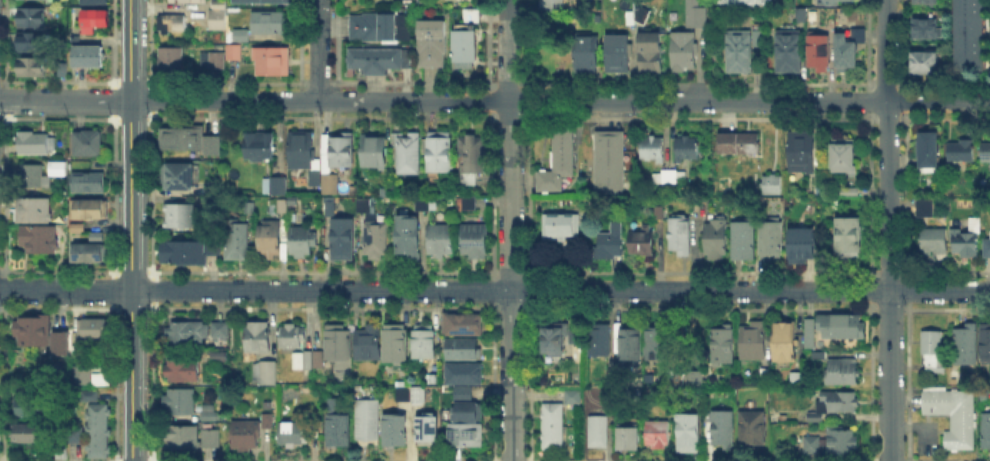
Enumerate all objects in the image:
building: (191, 1)
building: (97, 2)
building: (266, 2)
building: (839, 2)
building: (747, 3)
building: (929, 4)
building: (218, 6)
building: (555, 8)
building: (696, 15)
building: (473, 16)
building: (804, 17)
building: (33, 19)
building: (97, 19)
building: (639, 19)
building: (218, 21)
building: (271, 24)
building: (173, 25)
building: (382, 28)
building: (926, 30)
building: (967, 33)
building: (243, 37)
building: (430, 41)
building: (34, 43)
building: (847, 48)
road: (318, 50)
building: (467, 52)
building: (683, 52)
building: (740, 52)
building: (819, 52)
building: (235, 53)
building: (790, 53)
building: (589, 54)
building: (619, 54)
building: (652, 55)
building: (90, 58)
building: (213, 61)
building: (380, 61)
building: (926, 63)
building: (273, 64)
building: (172, 65)
building: (34, 67)
building: (64, 70)
road: (65, 100)
road: (559, 101)
building: (191, 141)
building: (34, 144)
building: (89, 145)
building: (740, 147)
building: (260, 148)
building: (652, 149)
building: (375, 150)
building: (302, 151)
building: (687, 151)
building: (962, 152)
building: (341, 153)
building: (802, 153)
building: (930, 153)
building: (987, 154)
building: (408, 155)
building: (440, 155)
building: (474, 155)
building: (845, 157)
building: (560, 161)
building: (612, 163)
building: (55, 167)
building: (33, 176)
building: (669, 177)
building: (178, 178)
building: (314, 178)
building: (470, 181)
building: (90, 184)
building: (329, 184)
building: (772, 185)
building: (276, 186)
building: (851, 193)
building: (471, 204)
building: (278, 206)
building: (365, 206)
building: (249, 207)
building: (421, 207)
building: (330, 208)
building: (927, 209)
building: (91, 210)
building: (35, 211)
building: (181, 216)
building: (560, 227)
building: (79, 229)
road: (130, 230)
road: (509, 230)
road: (888, 230)
building: (410, 235)
building: (680, 235)
building: (270, 237)
building: (343, 239)
building: (377, 239)
building: (440, 240)
building: (850, 240)
building: (39, 241)
building: (643, 241)
building: (771, 241)
building: (934, 241)
building: (239, 242)
building: (301, 242)
building: (476, 242)
building: (716, 242)
building: (744, 242)
building: (612, 243)
building: (802, 243)
building: (965, 243)
building: (987, 249)
building: (92, 250)
building: (189, 254)
road: (65, 290)
road: (560, 290)
building: (464, 325)
building: (844, 327)
building: (96, 328)
building: (220, 330)
building: (33, 333)
building: (188, 335)
building: (292, 336)
building: (813, 336)
building: (577, 337)
building: (258, 339)
building: (555, 340)
building: (658, 340)
building: (334, 341)
building: (600, 341)
building: (754, 341)
building: (63, 342)
building: (369, 342)
building: (396, 342)
building: (786, 342)
building: (424, 343)
building: (986, 345)
building: (723, 346)
building: (965, 346)
building: (631, 347)
building: (463, 350)
building: (934, 352)
building: (821, 356)
building: (315, 358)
building: (299, 359)
building: (183, 372)
building: (844, 372)
building: (266, 375)
building: (465, 375)
building: (765, 376)
building: (612, 378)
building: (687, 378)
building: (955, 379)
building: (80, 380)
building: (104, 381)
building: (801, 383)
building: (411, 394)
building: (464, 395)
building: (569, 395)
building: (181, 402)
building: (835, 404)
building: (30, 408)
building: (469, 411)
building: (210, 414)
building: (953, 416)
building: (269, 421)
building: (368, 425)
building: (553, 428)
building: (725, 429)
building: (429, 430)
building: (755, 430)
building: (339, 431)
building: (396, 431)
building: (986, 431)
building: (99, 432)
building: (27, 433)
building: (73, 433)
building: (689, 433)
building: (600, 435)
building: (658, 435)
building: (294, 436)
building: (246, 437)
building: (467, 437)
building: (630, 438)
building: (191, 440)
building: (842, 442)
building: (812, 446)

